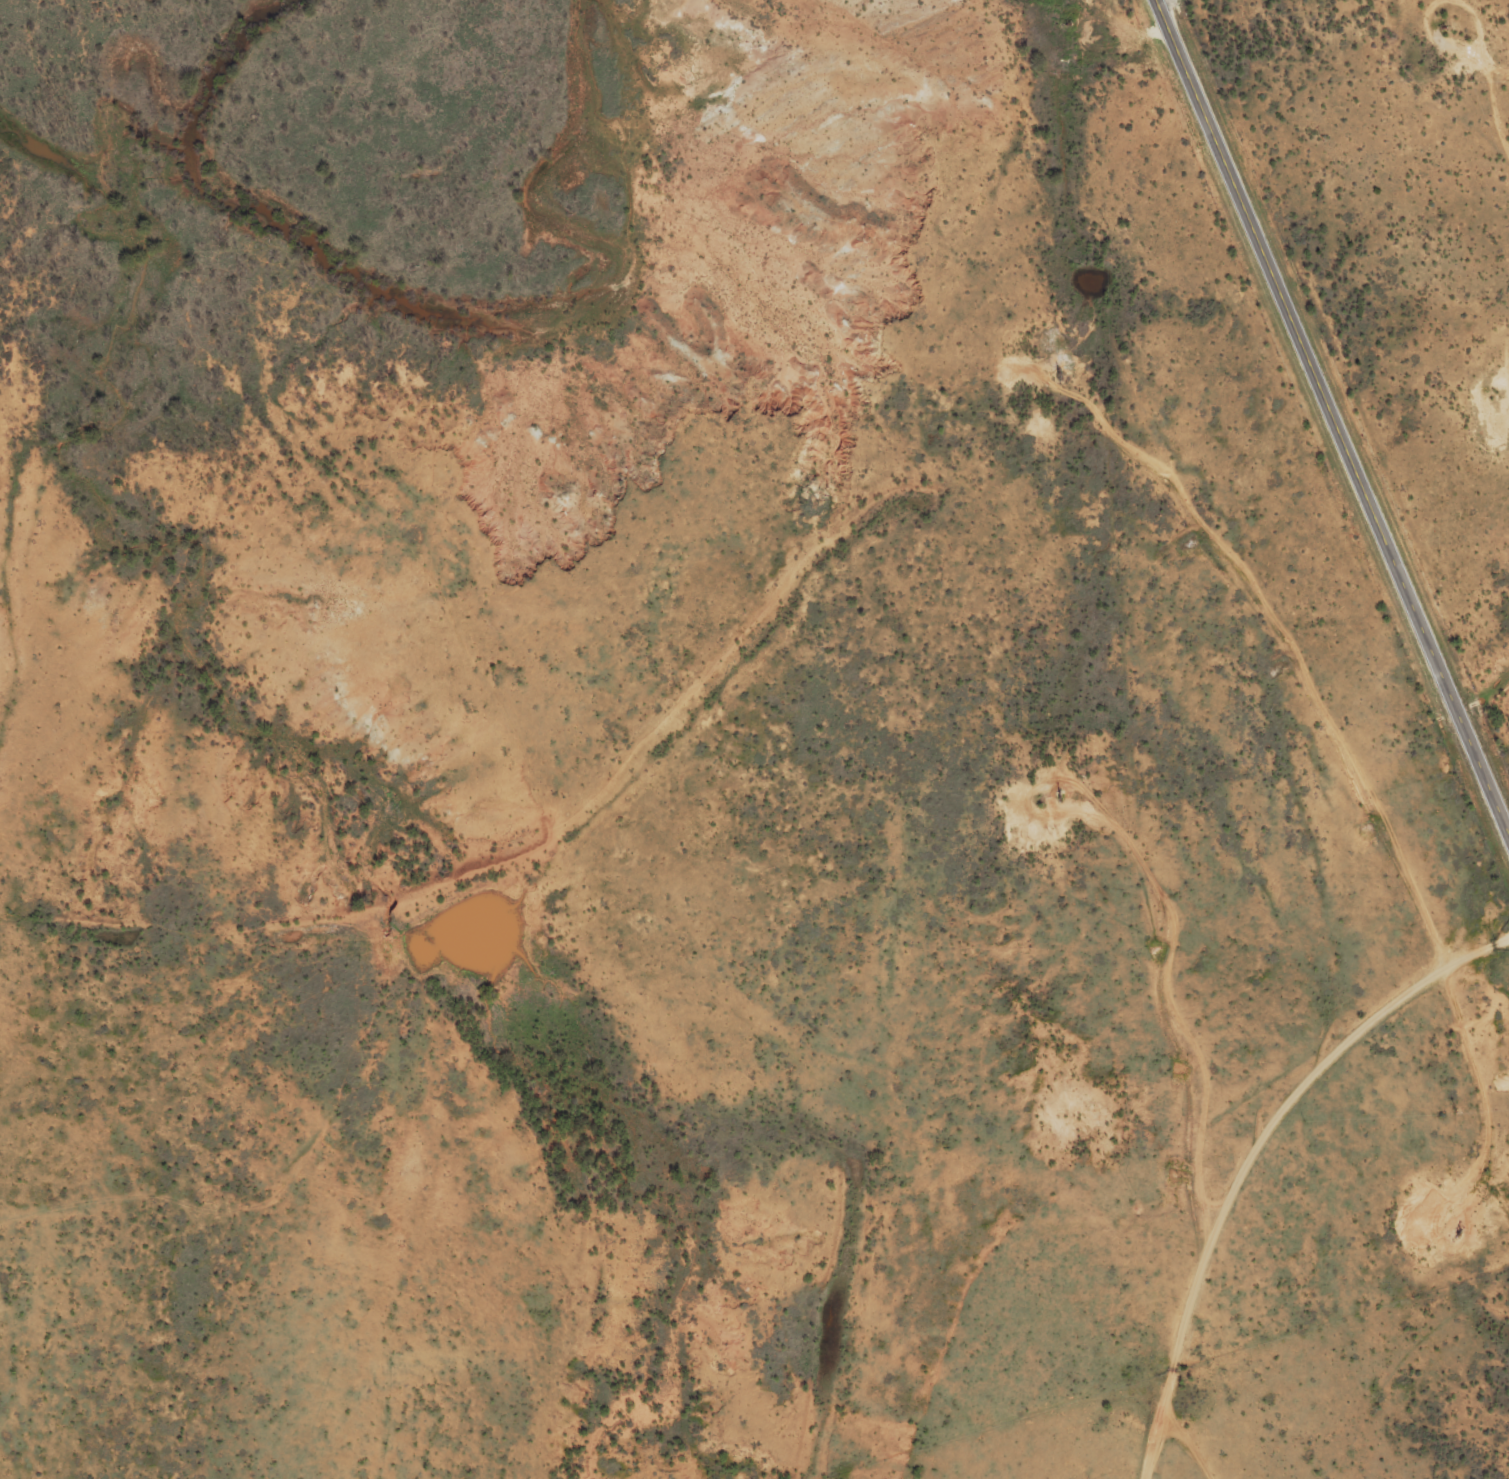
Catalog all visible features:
road: (1333, 412)
road: (1306, 1194)
road: (440, 1268)
road: (198, 1296)

